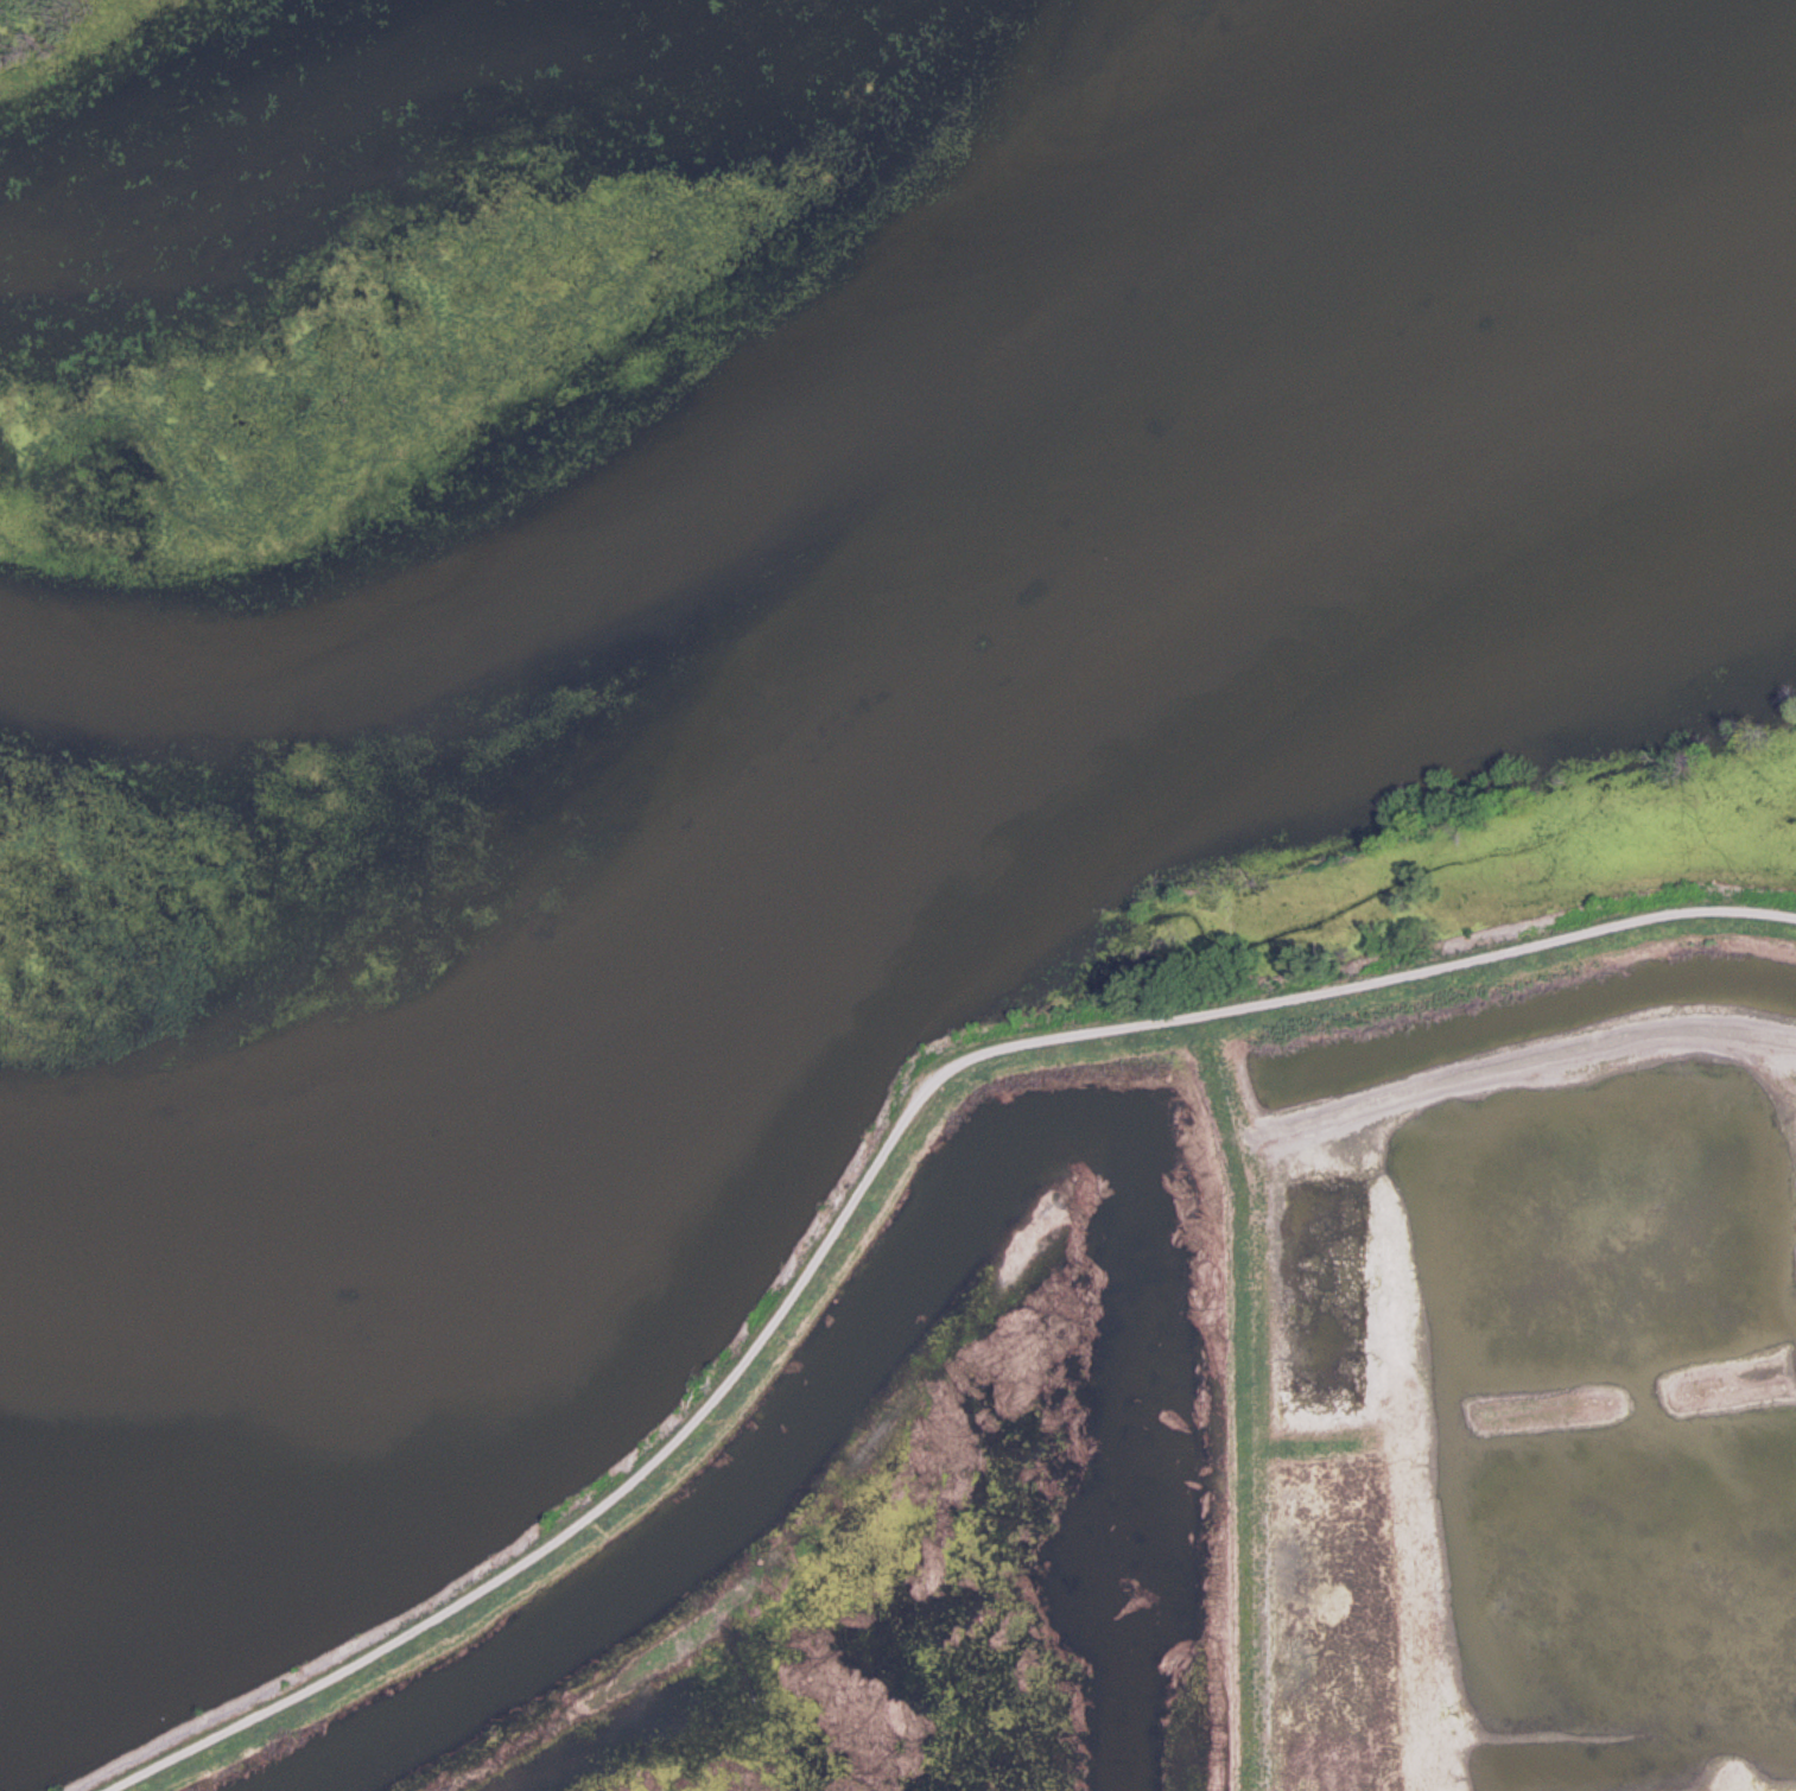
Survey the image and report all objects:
river: (882, 547)
road: (868, 1171)

